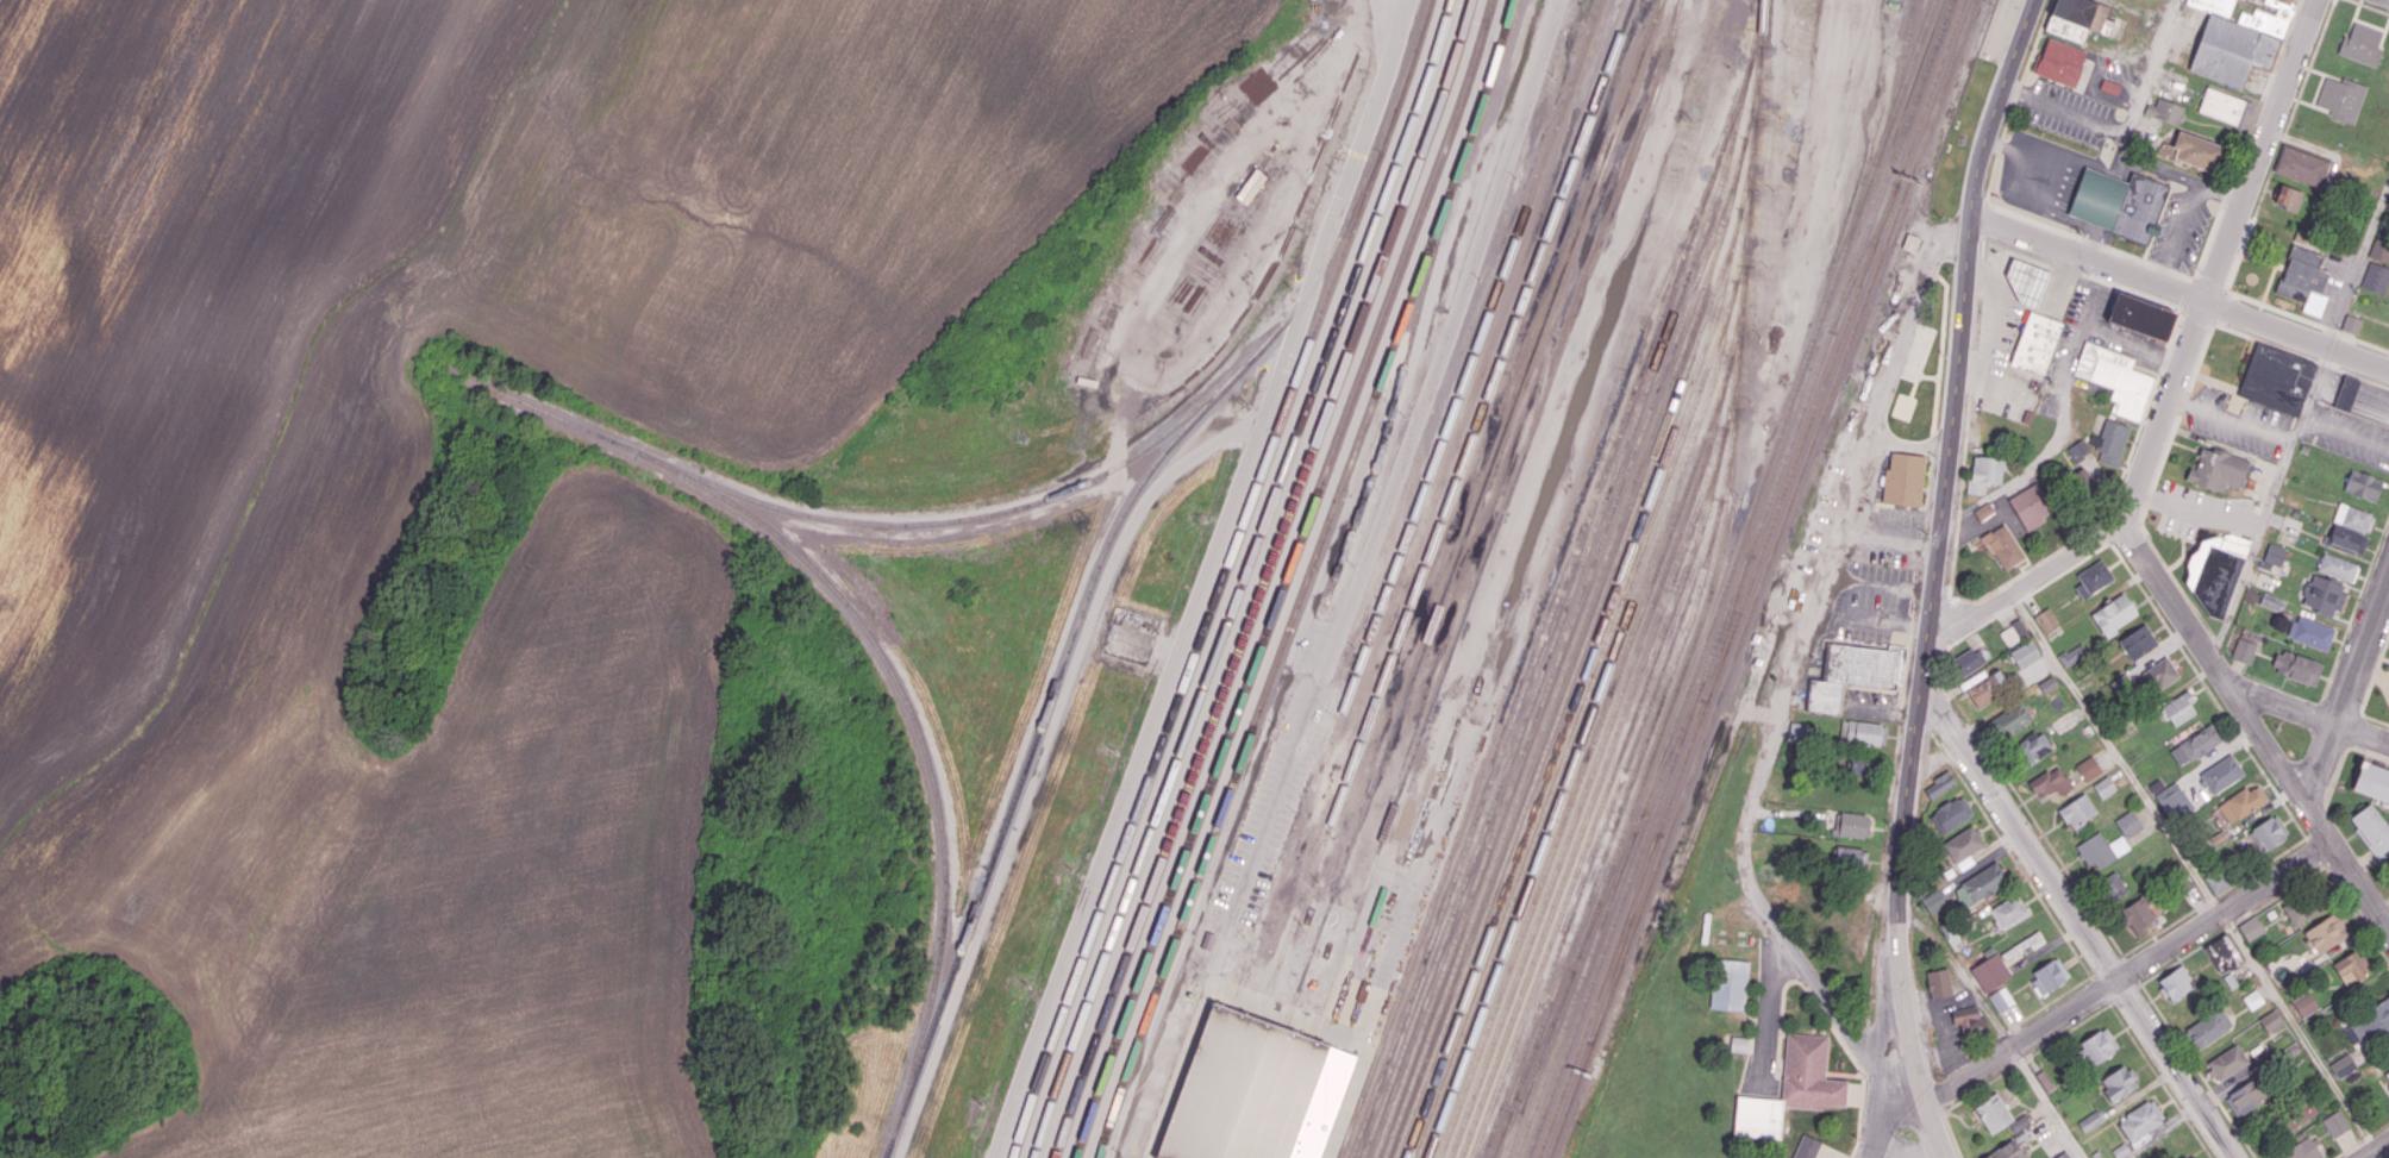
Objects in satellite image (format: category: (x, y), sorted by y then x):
building: (2284, 1)
building: (2214, 6)
road: (2371, 6)
building: (2083, 14)
parking lot: (1999, 29)
building: (2063, 29)
road: (2035, 40)
building: (2362, 43)
building: (2231, 51)
building: (2058, 62)
parking lot: (2115, 65)
road: (2147, 70)
building: (2109, 86)
road: (2018, 92)
road: (2264, 92)
building: (2341, 98)
road: (1995, 104)
building: (2224, 107)
road: (2064, 108)
building: (2163, 111)
parking lot: (2069, 112)
road: (2008, 119)
road: (2000, 144)
road: (2279, 144)
road: (2262, 149)
building: (2190, 151)
road: (2134, 159)
building: (2301, 165)
road: (1991, 176)
road: (2227, 193)
building: (2288, 198)
building: (2138, 207)
road: (1984, 217)
road: (2033, 219)
parking lot: (2181, 231)
road: (2180, 233)
road: (2268, 239)
road: (2095, 242)
road: (2209, 242)
road: (2016, 248)
building: (2379, 248)
road: (2134, 257)
road: (2262, 258)
road: (2068, 267)
road: (2166, 269)
park: (1938, 275)
road: (2185, 276)
building: (2376, 277)
building: (2303, 280)
building: (2025, 281)
gas station: (2025, 281)
road: (2269, 283)
road: (2209, 284)
road: (2180, 290)
road: (2133, 292)
road: (2188, 294)
road: (2219, 306)
road: (2276, 308)
building: (2138, 317)
road: (2197, 317)
parking lot: (2080, 320)
building: (2351, 323)
road: (2334, 330)
parking lot: (2008, 332)
building: (2034, 342)
road: (2265, 342)
road: (2365, 342)
road: (2324, 362)
parking lot: (2019, 376)
road: (2359, 376)
building: (2113, 378)
building: (2275, 378)
building: (2346, 393)
railway: (1395, 395)
parking lot: (2005, 409)
road: (2164, 411)
road: (2232, 420)
road: (2302, 420)
building: (2110, 442)
building: (2078, 452)
building: (2216, 470)
building: (1983, 471)
building: (1902, 478)
road: (2119, 484)
building: (2363, 486)
road: (1960, 492)
railway: (1416, 503)
building: (2030, 506)
railway: (1445, 508)
parking lot: (2200, 511)
road: (1843, 512)
railway: (1472, 513)
building: (2353, 517)
railway: (961, 518)
railway: (1499, 520)
parking lot: (1891, 537)
building: (2345, 538)
building: (2001, 546)
building: (2272, 556)
building: (2337, 567)
road: (2066, 570)
building: (2213, 571)
railway: (1221, 578)
railway: (1242, 578)
railway: (1264, 578)
railway: (1284, 578)
railway: (1307, 578)
railway: (1726, 578)
railway: (1739, 578)
railway: (1752, 578)
railway: (1763, 578)
building: (2093, 578)
railway: (1563, 581)
road: (2026, 581)
road: (2387, 593)
railway: (1709, 595)
building: (2325, 595)
road: (1964, 599)
road: (2018, 600)
building: (2270, 601)
parking lot: (1872, 602)
road: (2354, 608)
crop: (181, 613)
building: (2114, 614)
railway: (1559, 619)
railway: (1571, 619)
building: (2046, 619)
building: (2013, 632)
building: (2309, 632)
railway: (873, 636)
railway: (1068, 638)
building: (2138, 641)
railway: (1581, 650)
building: (2243, 650)
building: (2025, 653)
building: (2072, 653)
road: (2384, 658)
railway: (1566, 662)
building: (1965, 662)
building: (2297, 668)
building: (1849, 672)
railway: (1515, 674)
building: (2160, 674)
road: (2374, 674)
building: (1975, 677)
railway: (1589, 683)
building: (2121, 683)
building: (2047, 684)
road: (1920, 688)
building: (1985, 689)
road: (2209, 689)
road: (2347, 691)
railway: (1576, 694)
road: (2340, 706)
building: (2180, 707)
road: (2309, 713)
road: (2375, 719)
building: (2010, 720)
railway: (1599, 724)
road: (2257, 724)
road: (2356, 730)
building: (1797, 731)
railway: (1583, 732)
building: (1860, 732)
railway: (1674, 740)
building: (2195, 745)
building: (2032, 746)
road: (2115, 751)
road: (2370, 752)
railway: (1607, 759)
building: (1863, 764)
building: (2088, 768)
railway: (1591, 769)
road: (2001, 769)
building: (2221, 774)
road: (2335, 775)
building: (2371, 781)
building: (2051, 782)
building: (1939, 784)
building: (2105, 787)
railway: (1616, 793)
building: (2174, 801)
railway: (1600, 802)
building: (2240, 803)
building: (2077, 812)
building: (1950, 814)
building: (2128, 824)
building: (1852, 826)
building: (2371, 828)
building: (2269, 832)
railway: (1608, 840)
building: (1963, 846)
building: (2101, 850)
road: (2316, 851)
building: (1851, 859)
road: (2262, 865)
road: (2021, 869)
building: (2216, 881)
building: (1981, 884)
building: (2113, 885)
railway: (1609, 889)
road: (2283, 893)
road: (2210, 897)
building: (1933, 901)
building: (2306, 907)
building: (2008, 910)
road: (2358, 913)
building: (1841, 914)
building: (2137, 915)
road: (2078, 920)
road: (2232, 925)
building: (2251, 927)
road: (2164, 928)
building: (2326, 933)
building: (2021, 946)
building: (2224, 953)
road: (2183, 957)
road: (2106, 964)
building: (2350, 968)
road: (2131, 969)
building: (1990, 971)
road: (2128, 971)
road: (1806, 972)
road: (1960, 972)
building: (2049, 975)
building: (2176, 982)
road: (1803, 983)
building: (1938, 983)
building: (1730, 984)
road: (2100, 989)
road: (2126, 993)
building: (2001, 999)
building: (2253, 999)
road: (2051, 1001)
building: (2304, 1003)
building: (1969, 1019)
building: (2271, 1020)
building: (2368, 1024)
road: (1822, 1026)
road: (1816, 1027)
building: (2208, 1027)
railway: (1546, 1029)
road: (2070, 1029)
road: (2299, 1029)
road: (2003, 1031)
building: (1737, 1043)
road: (1982, 1045)
building: (2099, 1045)
road: (2022, 1060)
building: (2227, 1062)
building: (2343, 1065)
road: (2199, 1070)
building: (2387, 1072)
road: (1844, 1074)
road: (2160, 1081)
building: (2119, 1082)
railway: (1205, 1083)
railway: (1232, 1088)
road: (1980, 1088)
building: (1787, 1090)
building: (1250, 1091)
road: (1863, 1091)
railway: (1259, 1093)
building: (2246, 1096)
railway: (1287, 1097)
road: (2049, 1102)
building: (1990, 1112)
building: (2300, 1115)
road: (1887, 1118)
building: (2141, 1119)
building: (2090, 1121)
building: (2335, 1122)
road: (2381, 1126)
road: (1858, 1133)
road: (1952, 1134)
road: (2368, 1135)
railway: (1496, 1143)
building: (1805, 1147)
road: (2347, 1148)
road: (2376, 1148)
building: (2005, 1151)
building: (2299, 1151)
building: (2063, 1154)
building: (2190, 1157)

